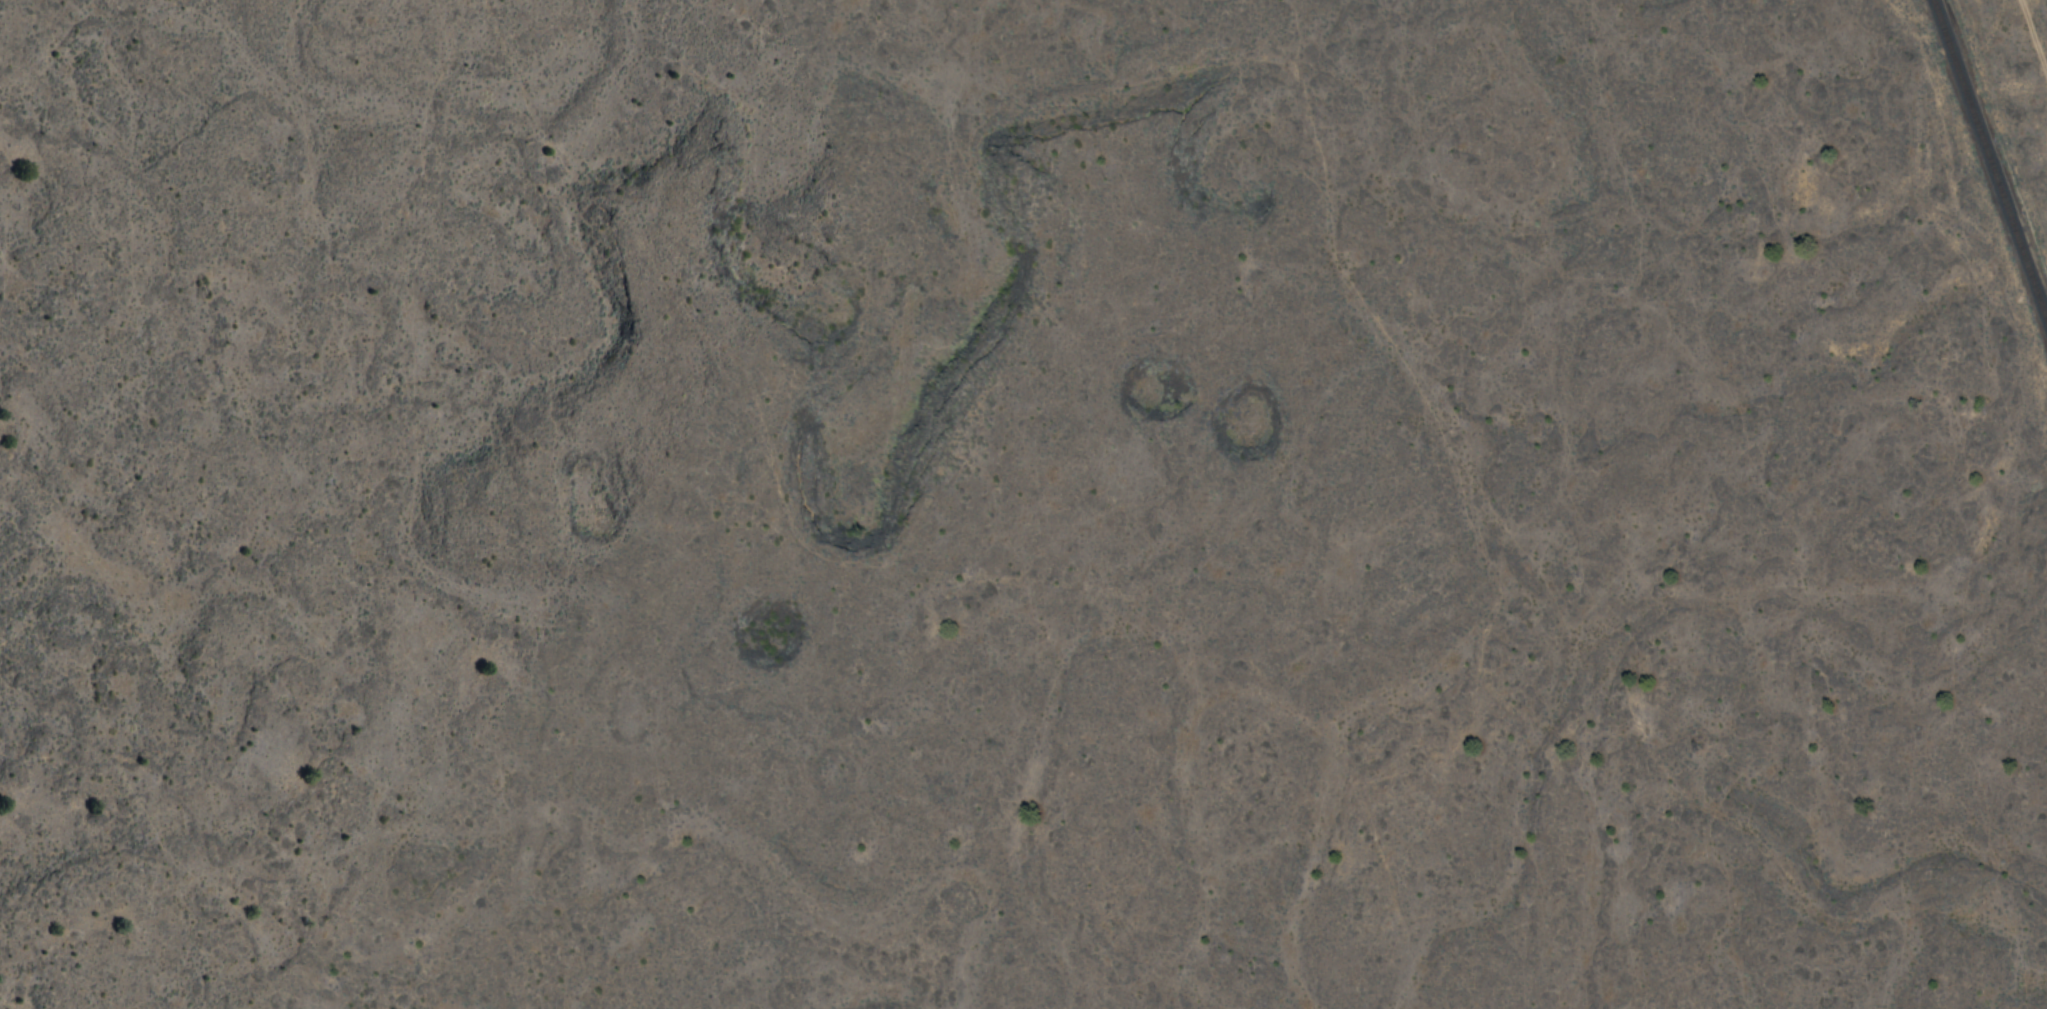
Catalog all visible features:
railway: (1989, 162)

